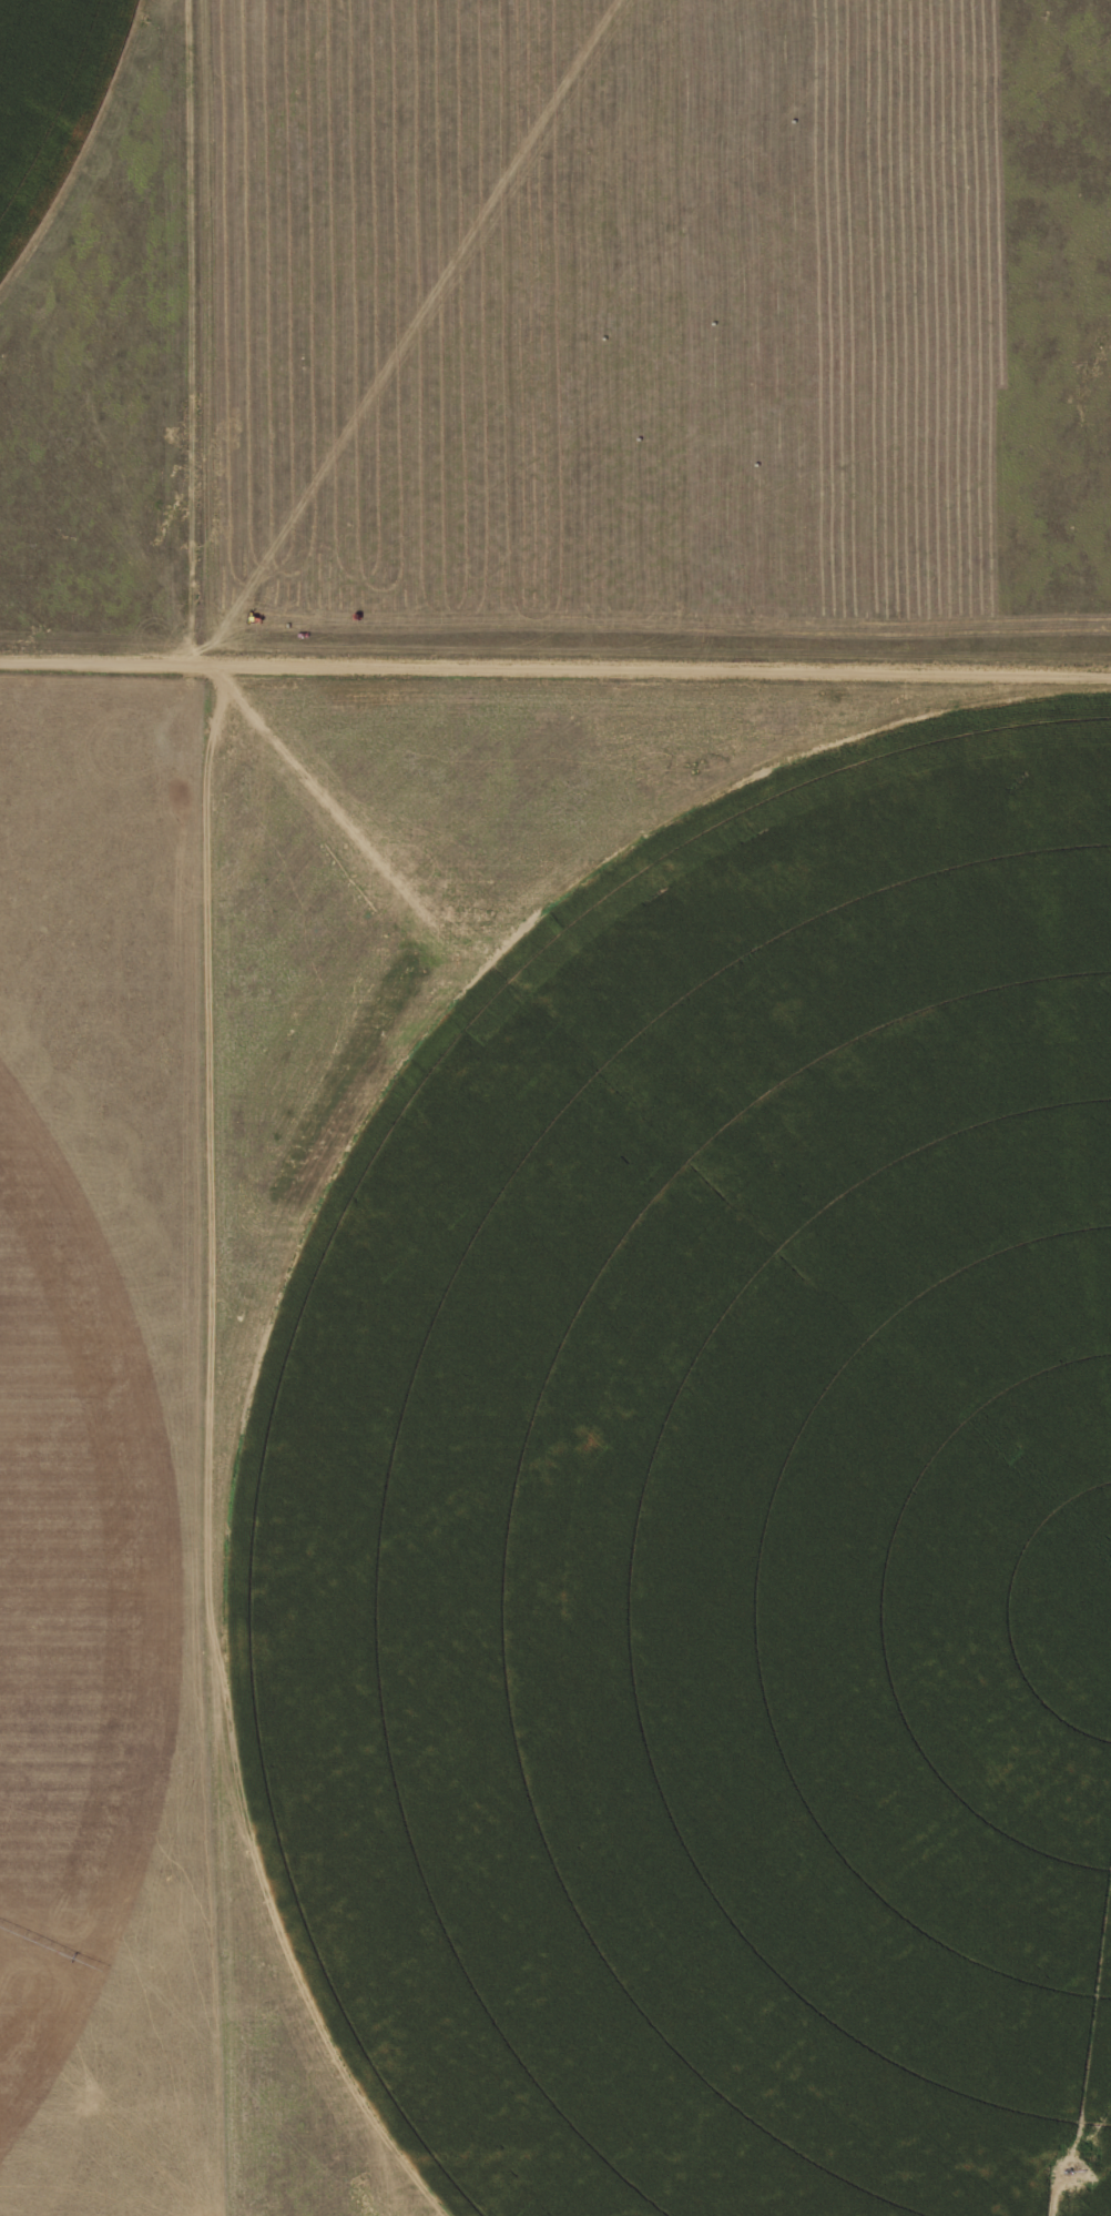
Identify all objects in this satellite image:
road: (555, 706)

